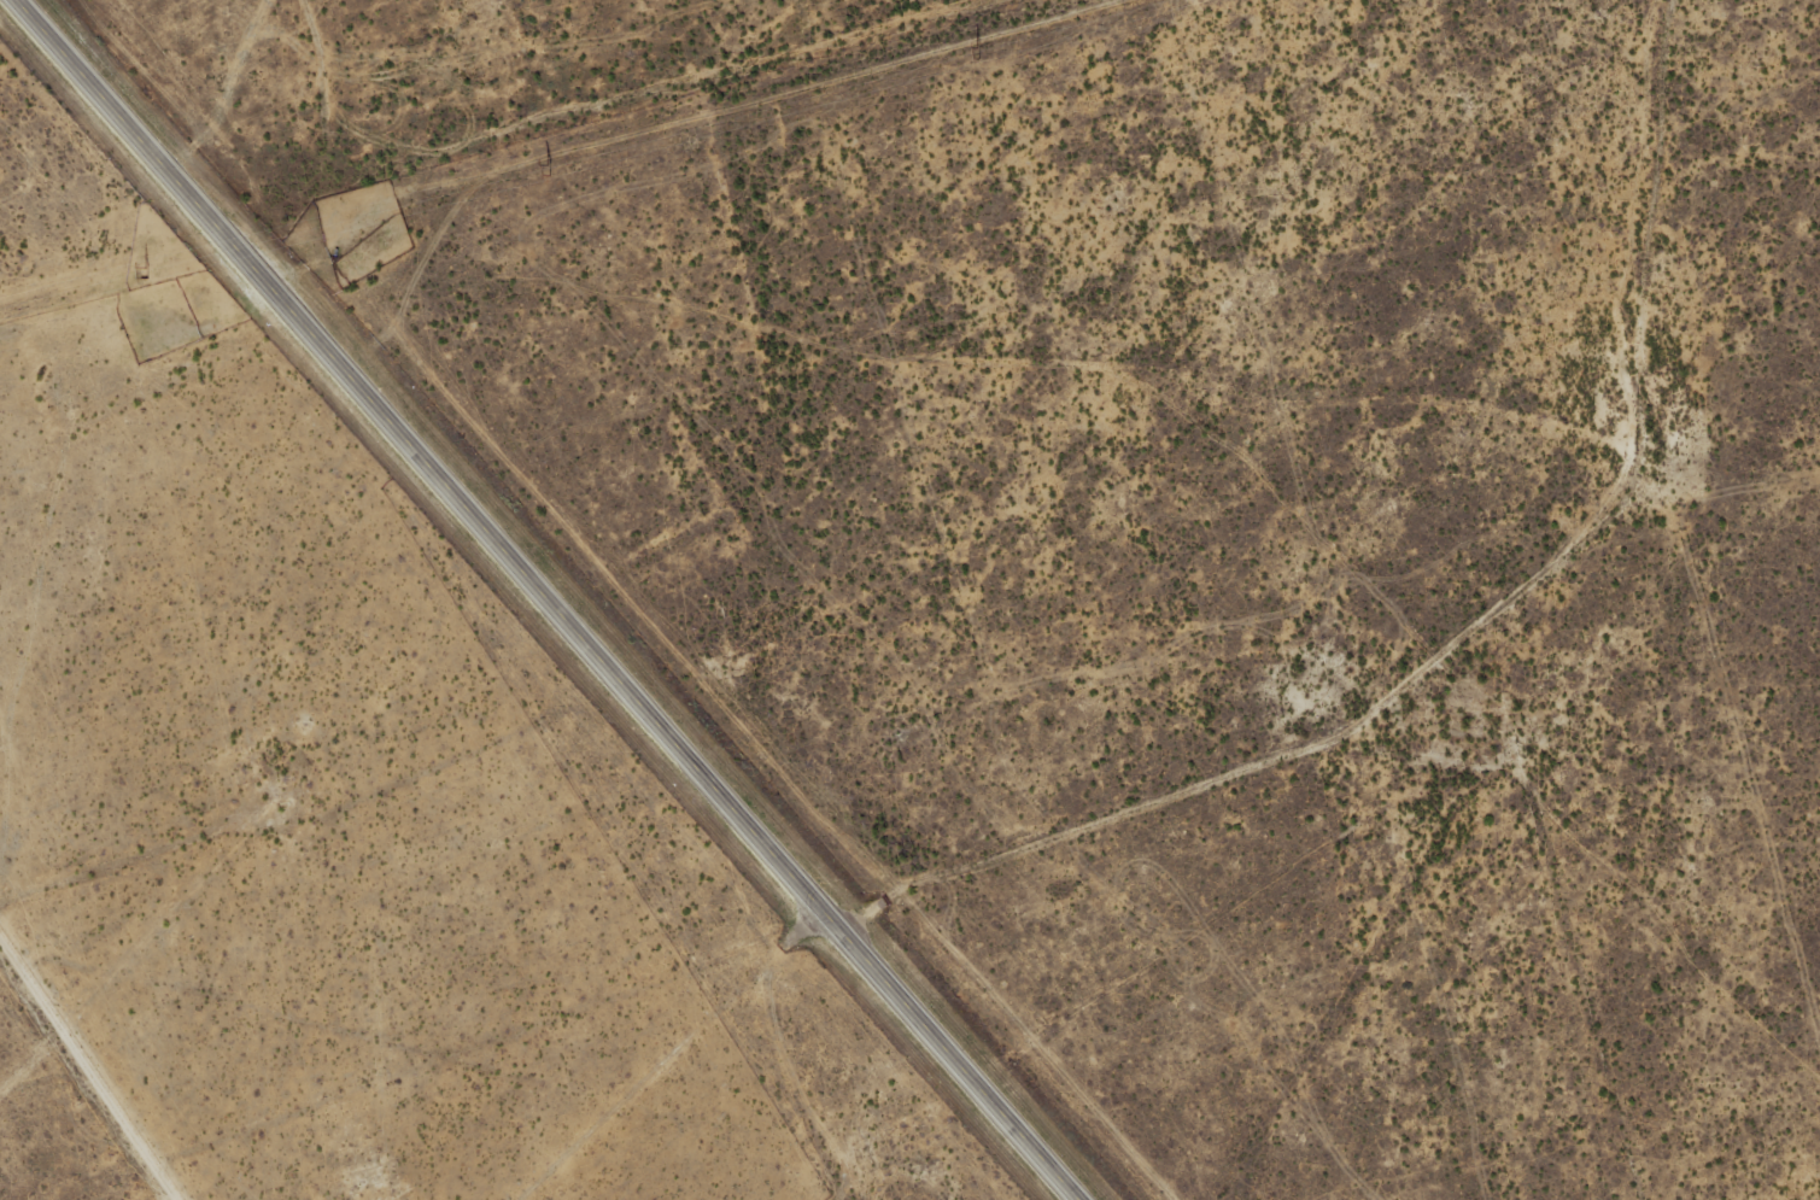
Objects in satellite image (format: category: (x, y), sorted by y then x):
power tower: (979, 55)
power tower: (549, 171)
power tower: (146, 274)
road: (544, 599)

